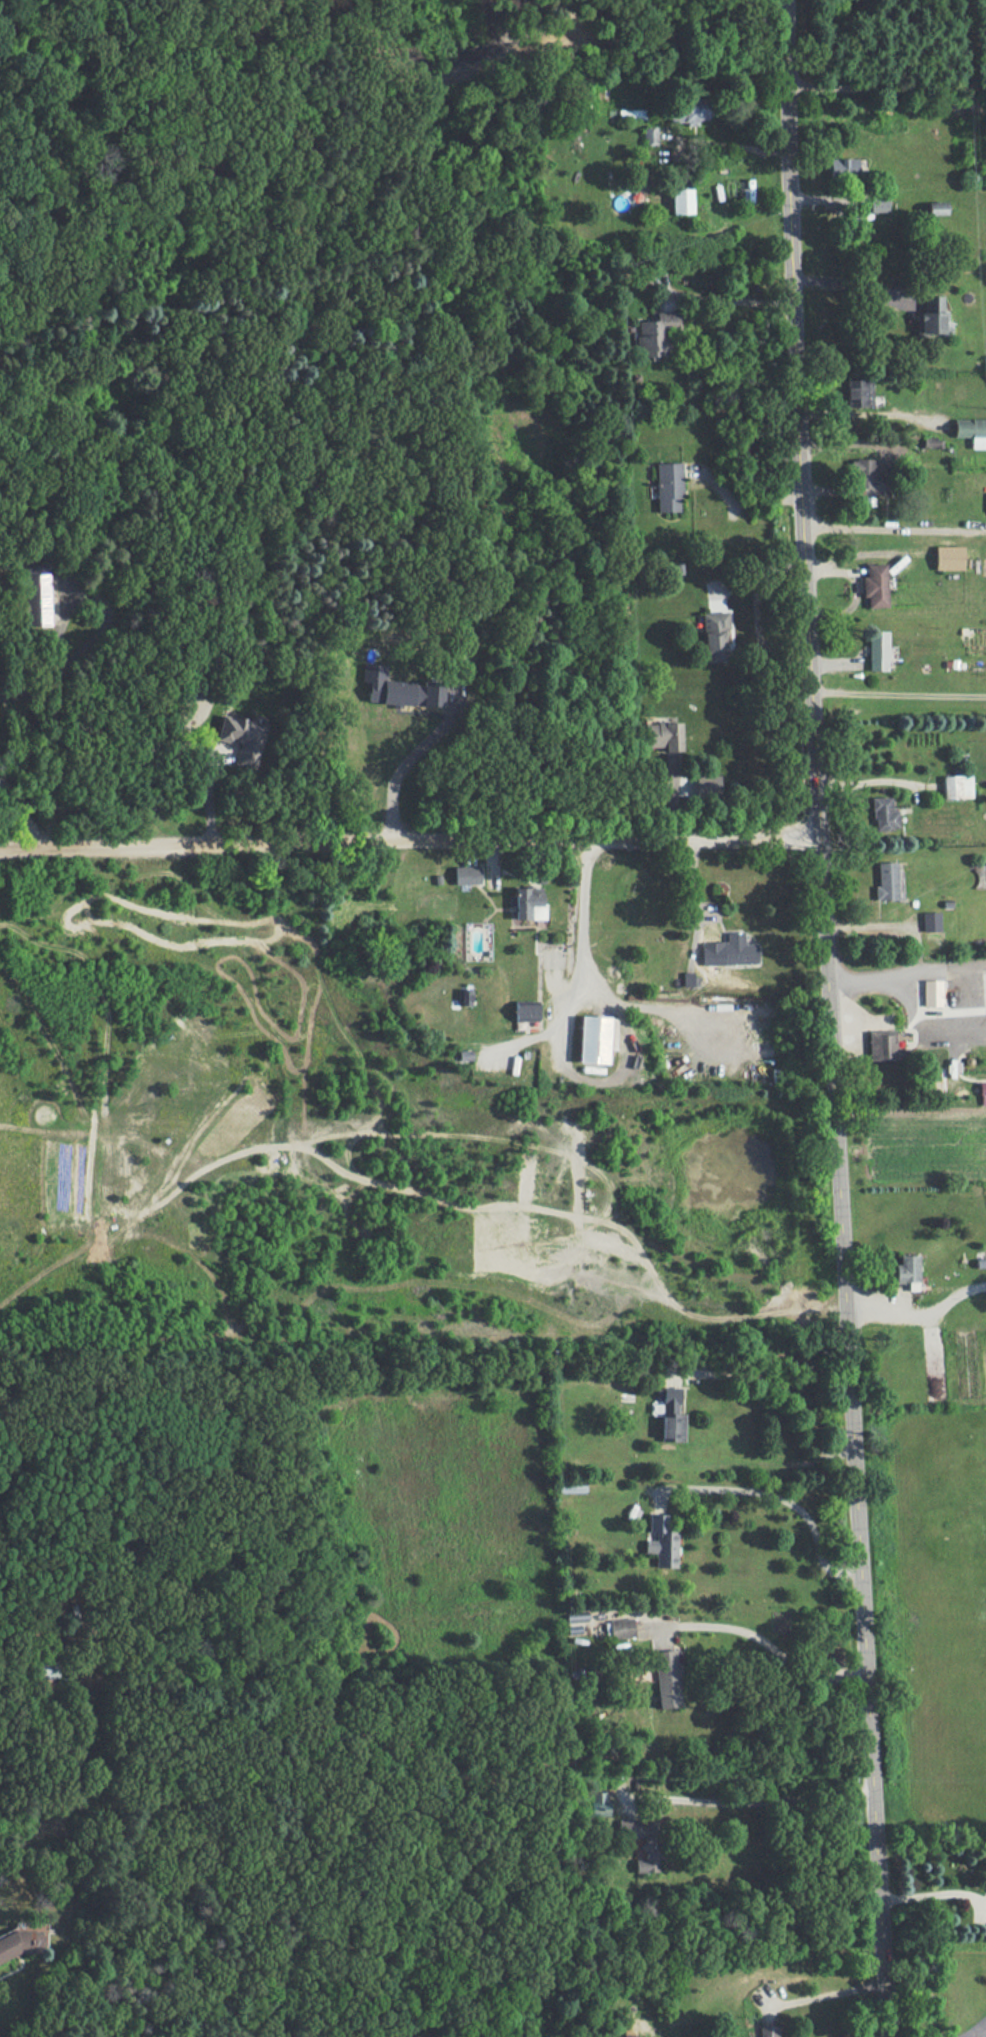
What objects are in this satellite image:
road: (885, 88)
building: (689, 111)
building: (649, 134)
road: (728, 147)
building: (842, 168)
building: (680, 200)
building: (878, 204)
building: (936, 207)
road: (852, 287)
road: (735, 302)
building: (931, 314)
building: (654, 332)
building: (860, 391)
road: (865, 428)
building: (971, 430)
building: (861, 467)
building: (668, 485)
road: (741, 496)
road: (893, 542)
building: (949, 557)
building: (875, 585)
building: (37, 598)
road: (757, 609)
building: (714, 635)
building: (877, 650)
building: (399, 689)
road: (896, 691)
building: (662, 735)
building: (241, 737)
building: (672, 768)
road: (406, 783)
building: (707, 784)
building: (957, 785)
road: (22, 813)
building: (883, 813)
road: (405, 846)
building: (466, 874)
building: (886, 881)
building: (528, 902)
building: (931, 921)
building: (728, 950)
road: (903, 969)
road: (583, 975)
building: (932, 992)
building: (524, 1012)
road: (823, 1018)
building: (593, 1038)
building: (882, 1045)
building: (982, 1092)
building: (907, 1270)
road: (914, 1303)
road: (785, 1389)
building: (671, 1415)
road: (780, 1490)
building: (661, 1541)
building: (575, 1616)
building: (620, 1627)
road: (770, 1640)
building: (666, 1678)
building: (597, 1803)
road: (750, 1803)
building: (639, 1841)
road: (932, 1896)
building: (22, 1939)
road: (827, 1995)
building: (766, 2030)
road: (979, 2032)
building: (624, 2035)

